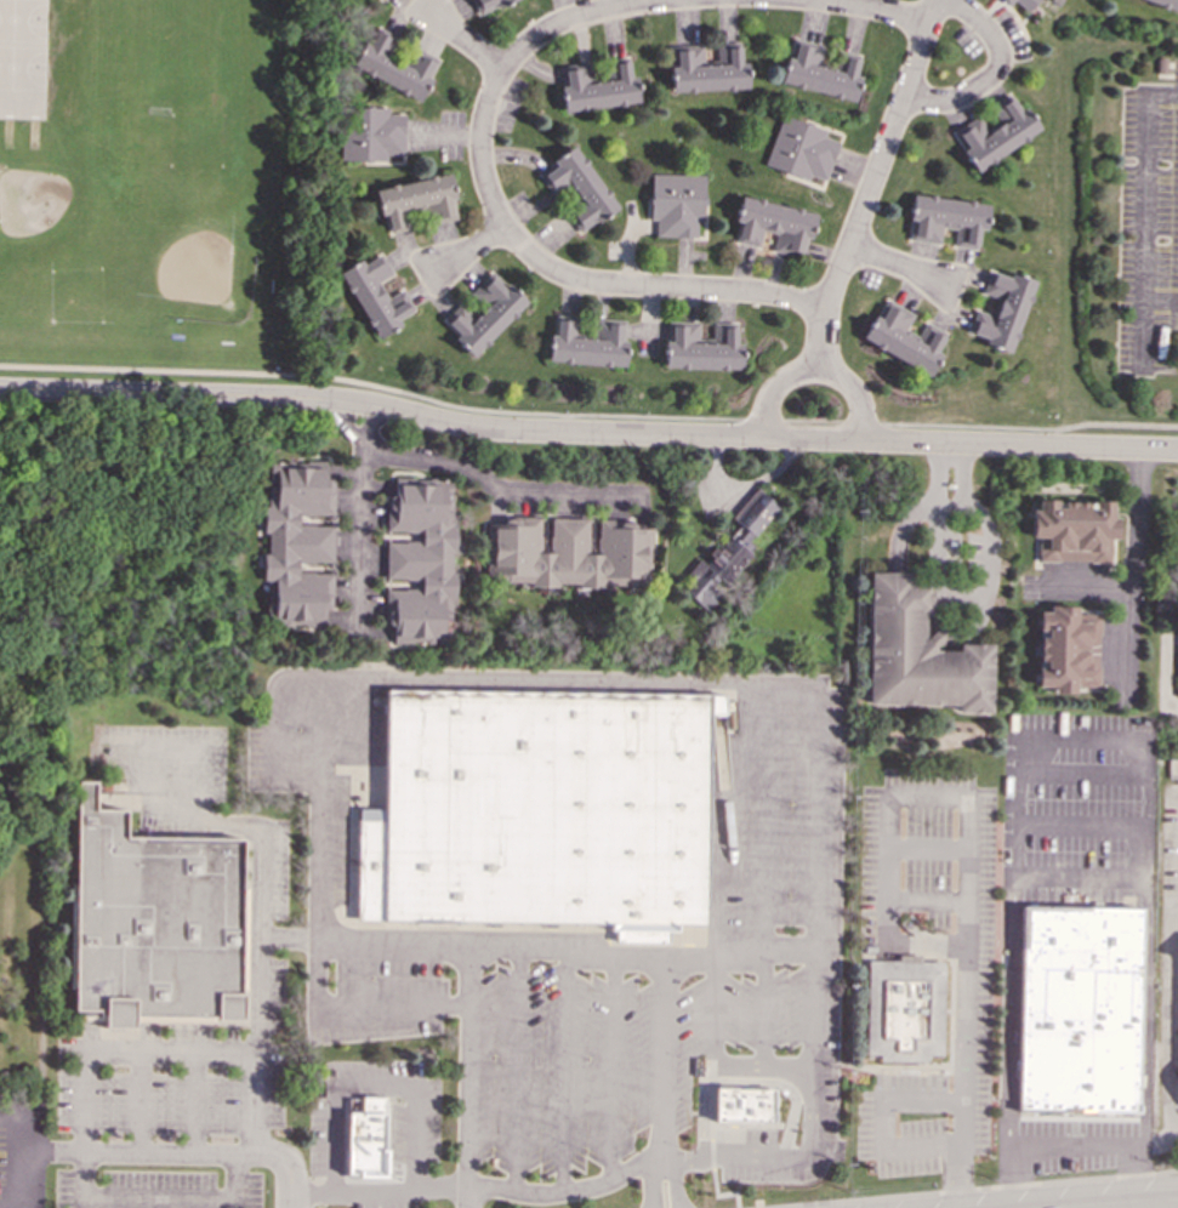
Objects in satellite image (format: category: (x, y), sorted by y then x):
building: (380, 1)
building: (1166, 2)
building: (488, 4)
building: (1021, 4)
road: (854, 8)
road: (461, 41)
road: (513, 57)
building: (394, 65)
building: (707, 69)
building: (819, 72)
road: (995, 73)
building: (597, 86)
building: (995, 132)
building: (370, 133)
building: (799, 150)
road: (870, 183)
building: (577, 189)
road: (1144, 196)
building: (415, 201)
building: (676, 204)
building: (945, 220)
building: (773, 224)
parking lot: (1148, 227)
road: (470, 249)
road: (895, 267)
road: (656, 289)
building: (375, 295)
building: (1001, 310)
building: (484, 313)
road: (1142, 335)
building: (903, 337)
building: (586, 342)
building: (701, 347)
road: (200, 371)
road: (106, 391)
road: (774, 391)
road: (222, 393)
road: (850, 394)
road: (787, 421)
road: (704, 434)
road: (354, 435)
road: (951, 471)
road: (494, 486)
building: (1072, 530)
road: (357, 531)
road: (1137, 540)
building: (296, 542)
building: (727, 552)
building: (565, 553)
building: (419, 560)
road: (971, 596)
building: (1065, 649)
building: (917, 653)
road: (321, 697)
road: (275, 734)
road: (1085, 739)
road: (171, 752)
road: (815, 758)
parking lot: (166, 769)
road: (1083, 775)
road: (966, 796)
road: (182, 803)
parking lot: (1075, 808)
building: (540, 810)
road: (1082, 827)
parking lot: (1170, 838)
road: (926, 845)
road: (1081, 879)
road: (926, 900)
building: (153, 924)
parking lot: (773, 931)
road: (288, 939)
road: (764, 951)
road: (620, 958)
road: (762, 1009)
building: (905, 1009)
building: (1079, 1010)
road: (1008, 1012)
road: (1145, 1012)
road: (716, 1013)
parking lot: (972, 1015)
road: (1171, 1021)
road: (257, 1030)
parking lot: (197, 1041)
road: (662, 1060)
road: (516, 1067)
road: (763, 1067)
road: (563, 1069)
road: (610, 1070)
road: (468, 1076)
road: (742, 1083)
road: (372, 1087)
road: (140, 1102)
road: (194, 1104)
building: (742, 1105)
road: (884, 1123)
parking lot: (414, 1132)
road: (1155, 1139)
building: (362, 1144)
parking lot: (1074, 1144)
road: (1071, 1146)
road: (84, 1149)
road: (129, 1151)
parking lot: (22, 1153)
road: (957, 1153)
road: (19, 1156)
road: (735, 1156)
road: (676, 1181)
road: (651, 1183)
road: (478, 1186)
parking lot: (155, 1189)
road: (978, 1189)
road: (1133, 1204)

